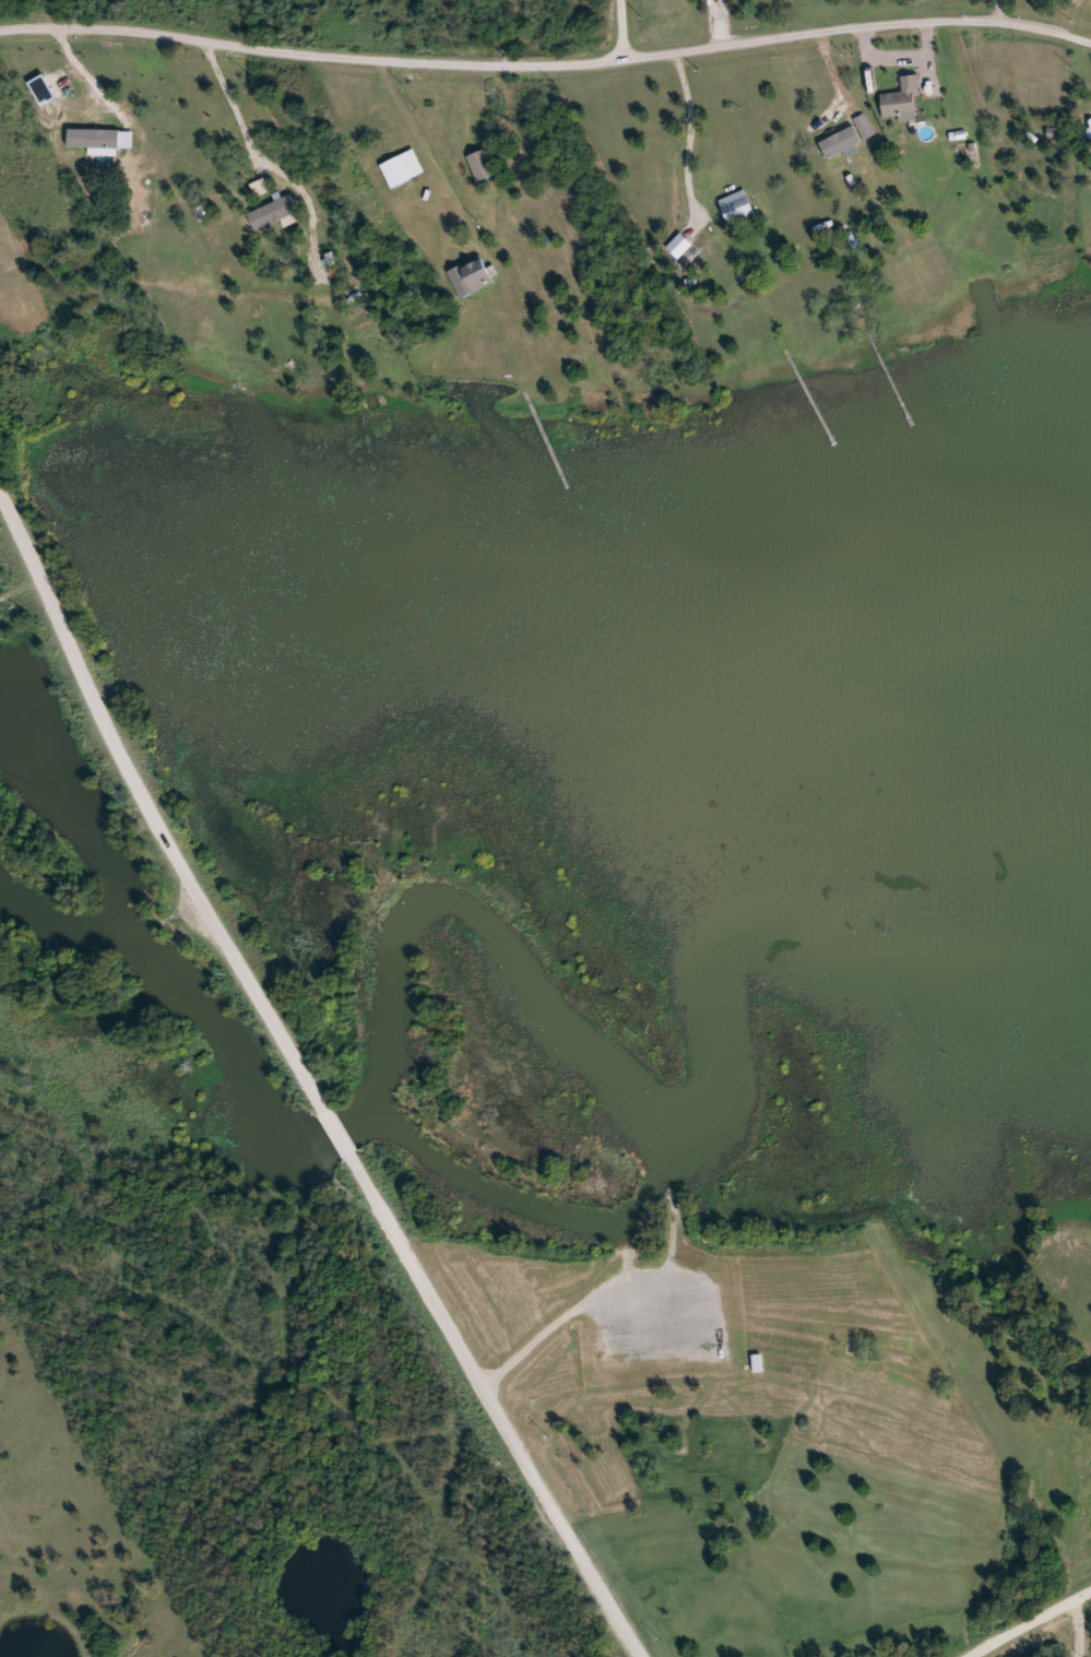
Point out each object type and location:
road: (624, 28)
road: (546, 64)
building: (903, 100)
building: (482, 165)
building: (395, 173)
building: (739, 209)
road: (229, 940)
road: (567, 1315)
parking lot: (663, 1319)
building: (758, 1363)
road: (438, 1514)
road: (561, 1517)

